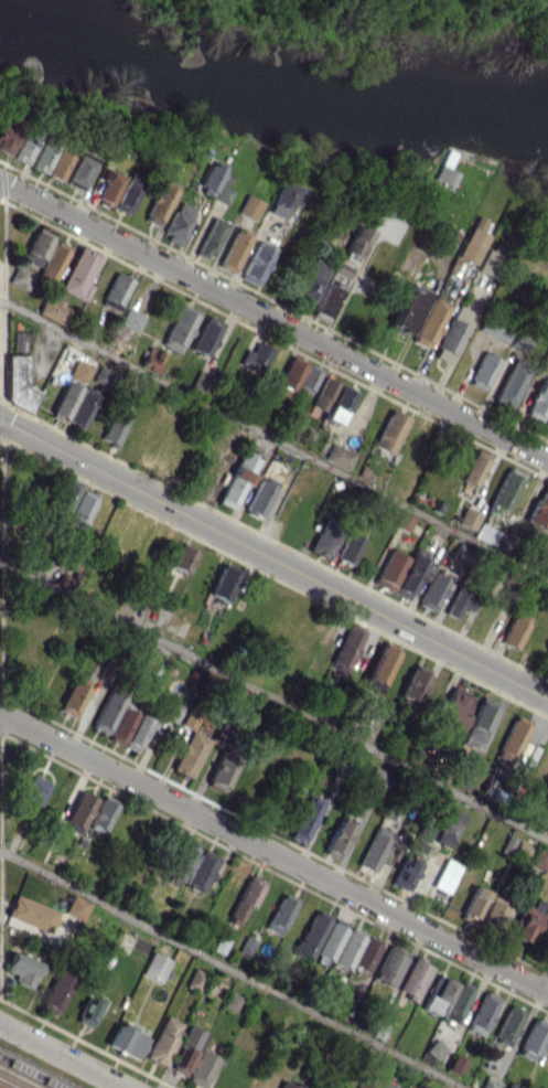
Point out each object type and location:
river: (271, 89)
building: (8, 134)
building: (23, 146)
building: (41, 159)
building: (57, 164)
building: (77, 171)
building: (209, 177)
building: (108, 186)
building: (128, 192)
building: (222, 193)
building: (284, 199)
building: (159, 201)
building: (249, 206)
building: (178, 223)
building: (209, 237)
building: (472, 241)
building: (355, 243)
building: (35, 247)
building: (233, 249)
building: (53, 260)
building: (488, 262)
building: (255, 263)
building: (77, 275)
building: (20, 277)
building: (309, 280)
building: (115, 291)
building: (51, 309)
building: (407, 309)
building: (129, 319)
road: (273, 320)
building: (429, 322)
building: (176, 330)
building: (494, 330)
building: (451, 333)
building: (205, 335)
building: (18, 340)
building: (254, 358)
building: (150, 359)
building: (78, 370)
building: (481, 371)
building: (288, 376)
building: (307, 378)
building: (511, 381)
building: (15, 382)
building: (321, 393)
building: (64, 401)
building: (537, 402)
building: (336, 405)
building: (82, 409)
building: (545, 418)
building: (116, 425)
building: (388, 431)
road: (273, 439)
building: (337, 456)
building: (473, 468)
building: (237, 479)
building: (504, 489)
building: (65, 495)
building: (258, 498)
building: (79, 510)
building: (538, 510)
building: (466, 518)
building: (402, 521)
building: (484, 534)
building: (323, 541)
building: (348, 548)
building: (181, 557)
road: (273, 558)
building: (388, 569)
building: (411, 575)
building: (222, 582)
building: (431, 591)
building: (459, 601)
building: (512, 632)
building: (345, 649)
building: (546, 663)
building: (379, 664)
building: (411, 685)
building: (73, 695)
road: (275, 697)
building: (454, 707)
building: (169, 710)
building: (106, 713)
building: (189, 717)
building: (477, 722)
building: (121, 725)
building: (137, 733)
building: (512, 737)
building: (189, 754)
building: (417, 761)
building: (222, 768)
building: (374, 780)
building: (34, 790)
building: (78, 812)
building: (101, 814)
building: (304, 819)
building: (546, 826)
building: (448, 828)
building: (337, 838)
building: (420, 840)
building: (373, 849)
building: (520, 850)
road: (273, 853)
building: (181, 857)
building: (538, 858)
building: (449, 868)
building: (201, 871)
building: (404, 873)
building: (244, 900)
building: (472, 903)
building: (547, 906)
building: (75, 908)
building: (491, 911)
building: (31, 913)
building: (280, 913)
building: (525, 920)
building: (311, 934)
building: (330, 938)
building: (219, 943)
building: (246, 945)
building: (355, 950)
building: (389, 964)
building: (154, 967)
building: (22, 969)
road: (229, 970)
building: (195, 979)
building: (413, 979)
building: (56, 990)
building: (437, 995)
building: (230, 1001)
building: (455, 1002)
building: (88, 1011)
building: (482, 1013)
building: (507, 1025)
building: (533, 1037)
building: (126, 1041)
building: (162, 1041)
building: (434, 1048)
building: (187, 1050)
road: (58, 1057)
building: (454, 1064)
building: (201, 1068)
railway: (26, 1074)
railway: (17, 1079)
building: (368, 1082)
building: (490, 1082)
railway: (4, 1085)
building: (287, 1085)
building: (386, 1085)
building: (512, 1086)

